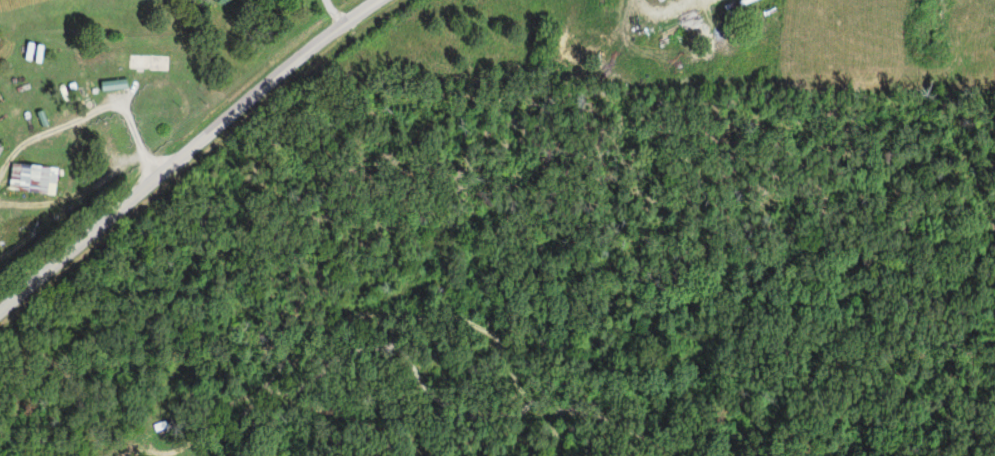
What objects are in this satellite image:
building: (111, 85)
road: (185, 151)
building: (31, 177)

